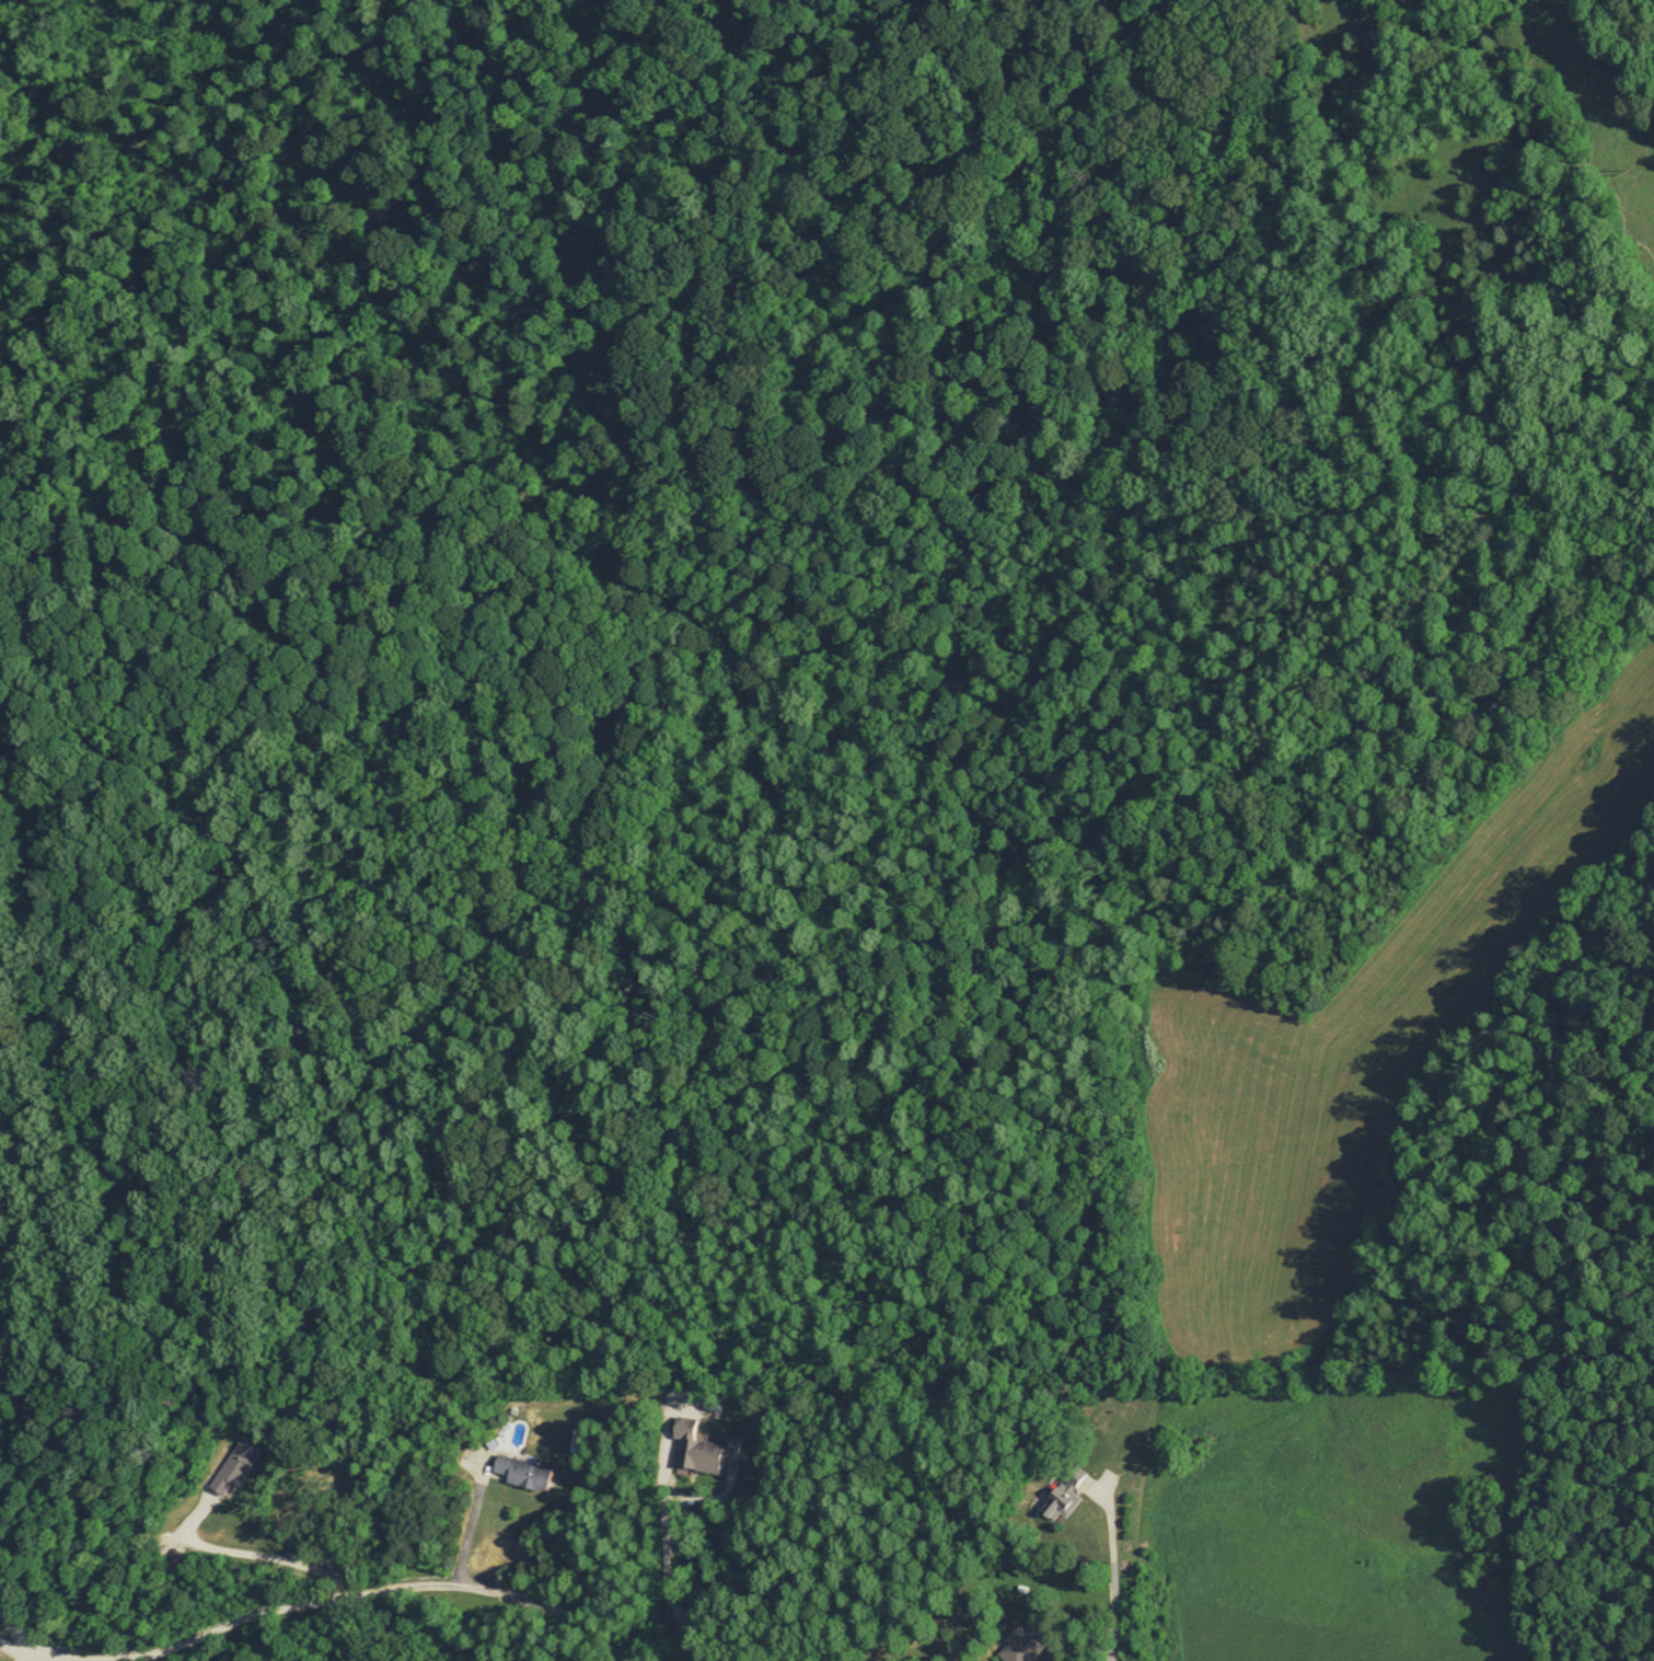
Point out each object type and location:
building: (698, 1447)
building: (519, 1470)
building: (1059, 1493)
road: (1112, 1577)
road: (347, 1591)
building: (1021, 1641)

